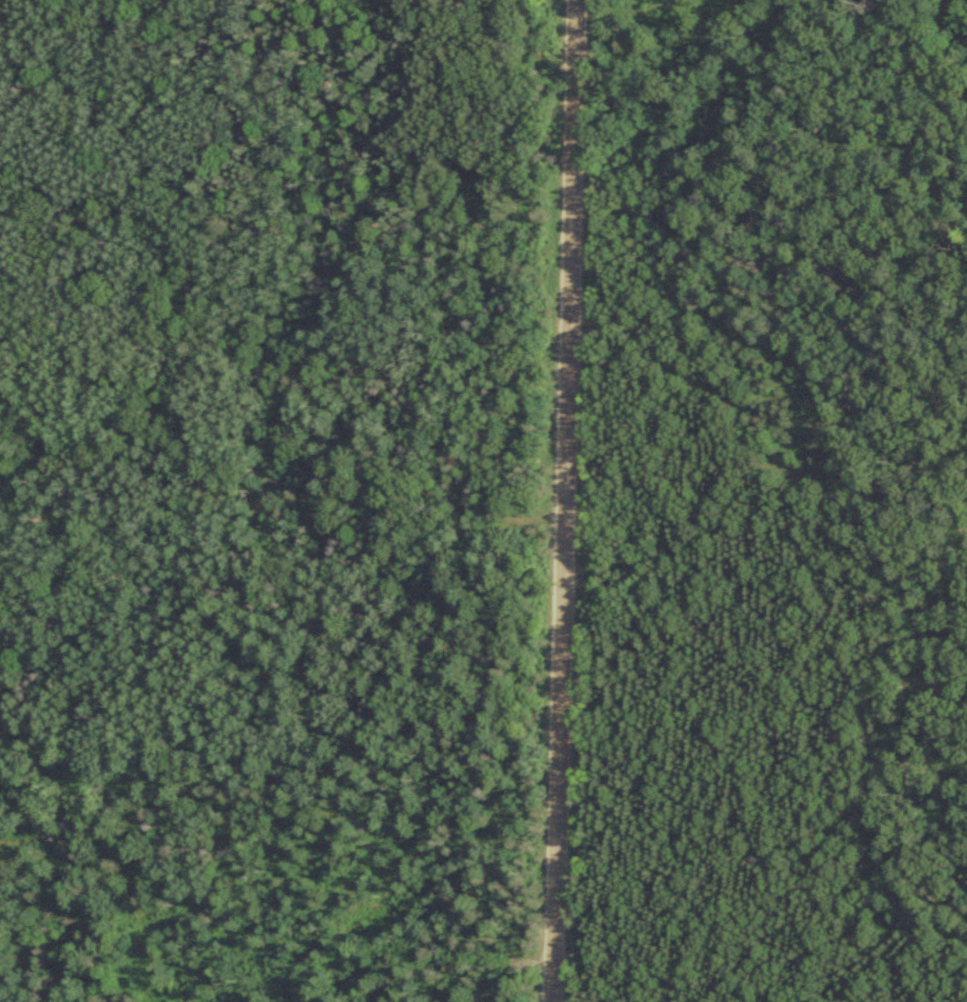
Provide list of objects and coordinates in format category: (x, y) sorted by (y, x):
road: (556, 501)

